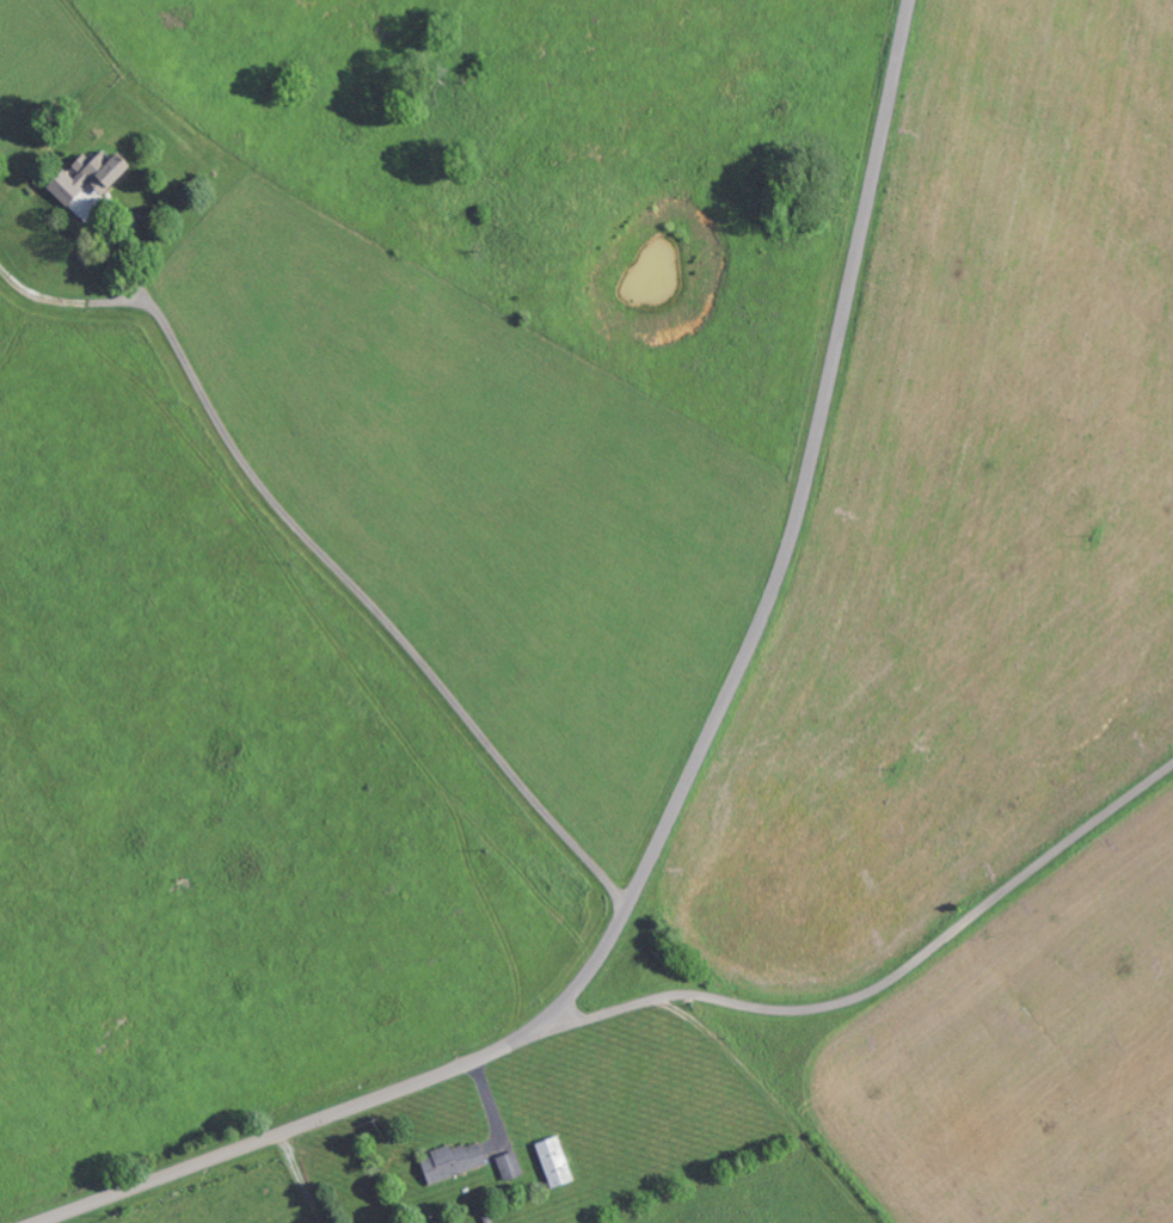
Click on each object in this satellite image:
building: (82, 177)
park: (796, 183)
road: (686, 785)
road: (889, 979)
building: (449, 1160)
building: (552, 1160)
building: (508, 1164)

